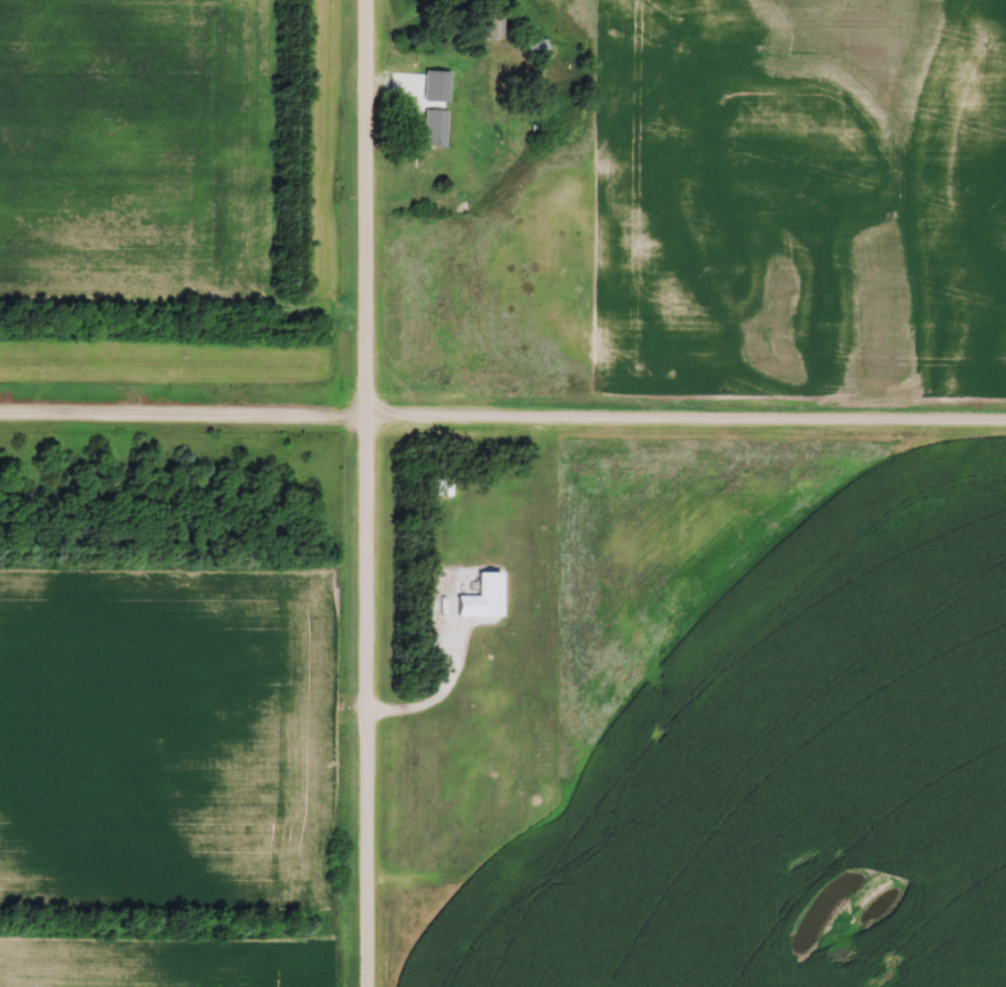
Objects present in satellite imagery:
building: (490, 23)
building: (533, 49)
building: (431, 128)
road: (503, 425)
road: (365, 493)
building: (443, 496)
building: (484, 791)
road: (432, 881)

